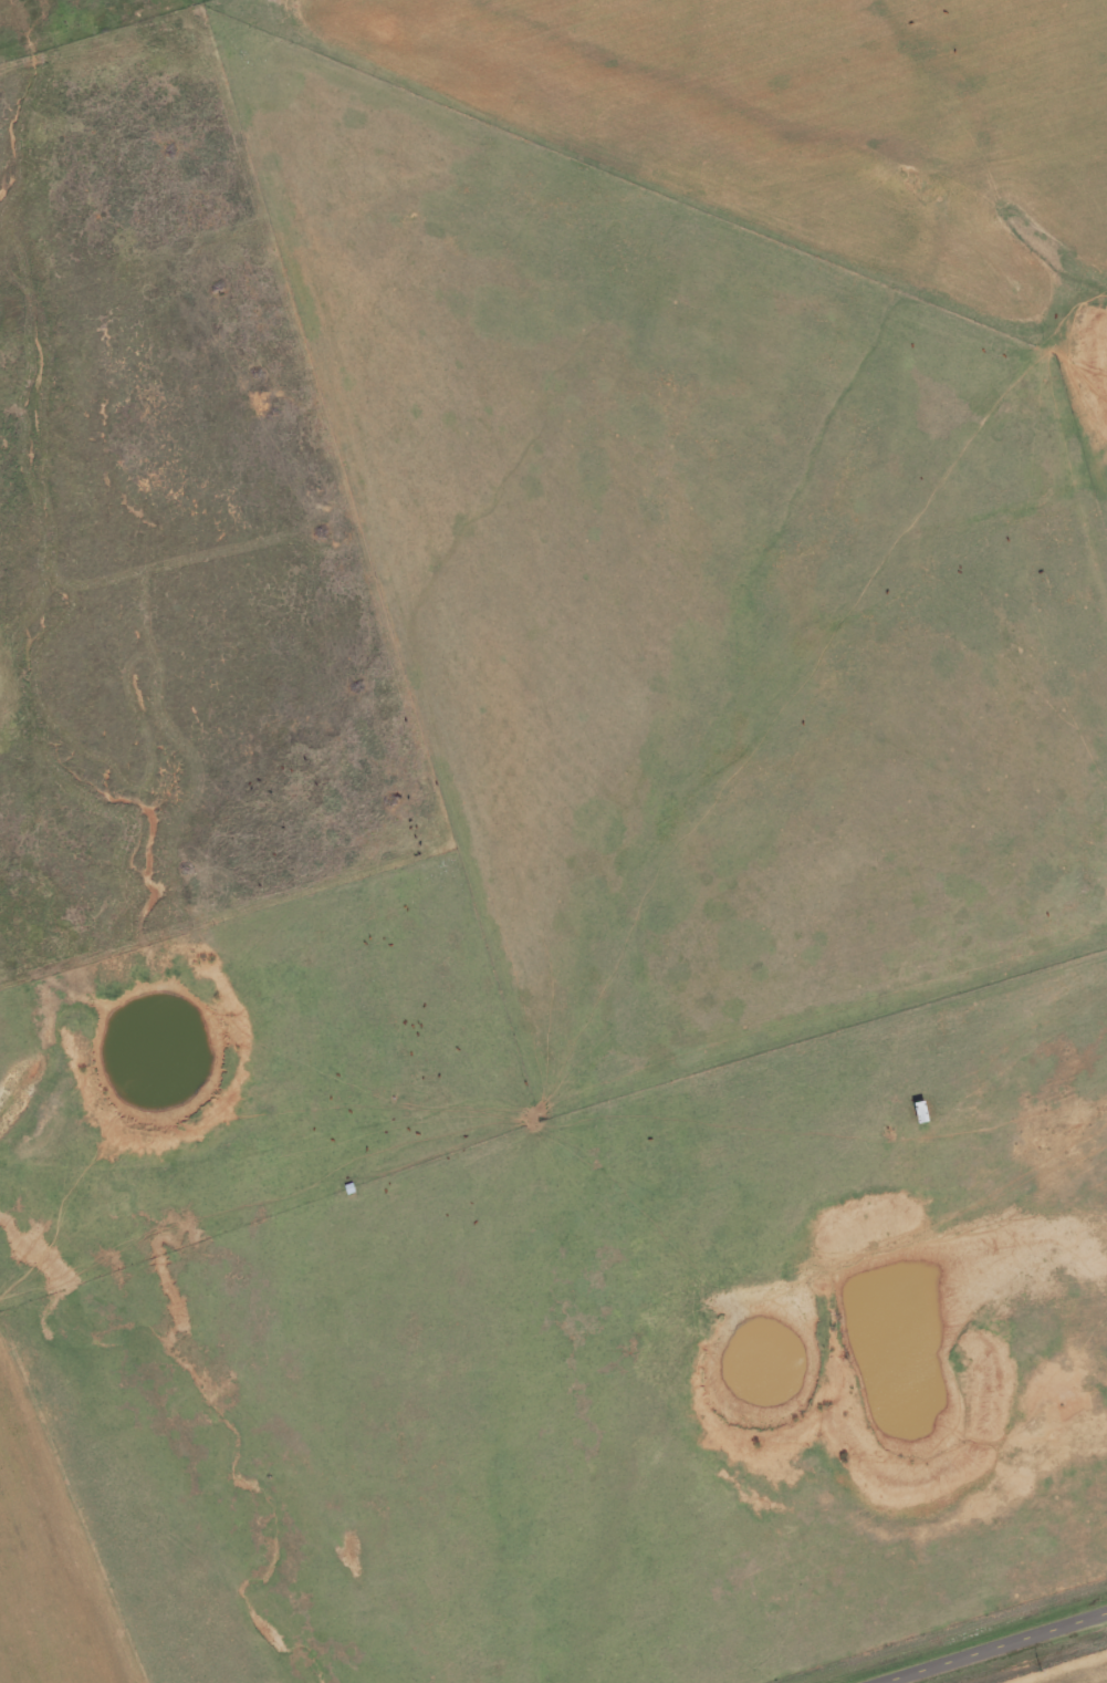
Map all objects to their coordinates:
road: (989, 1646)

